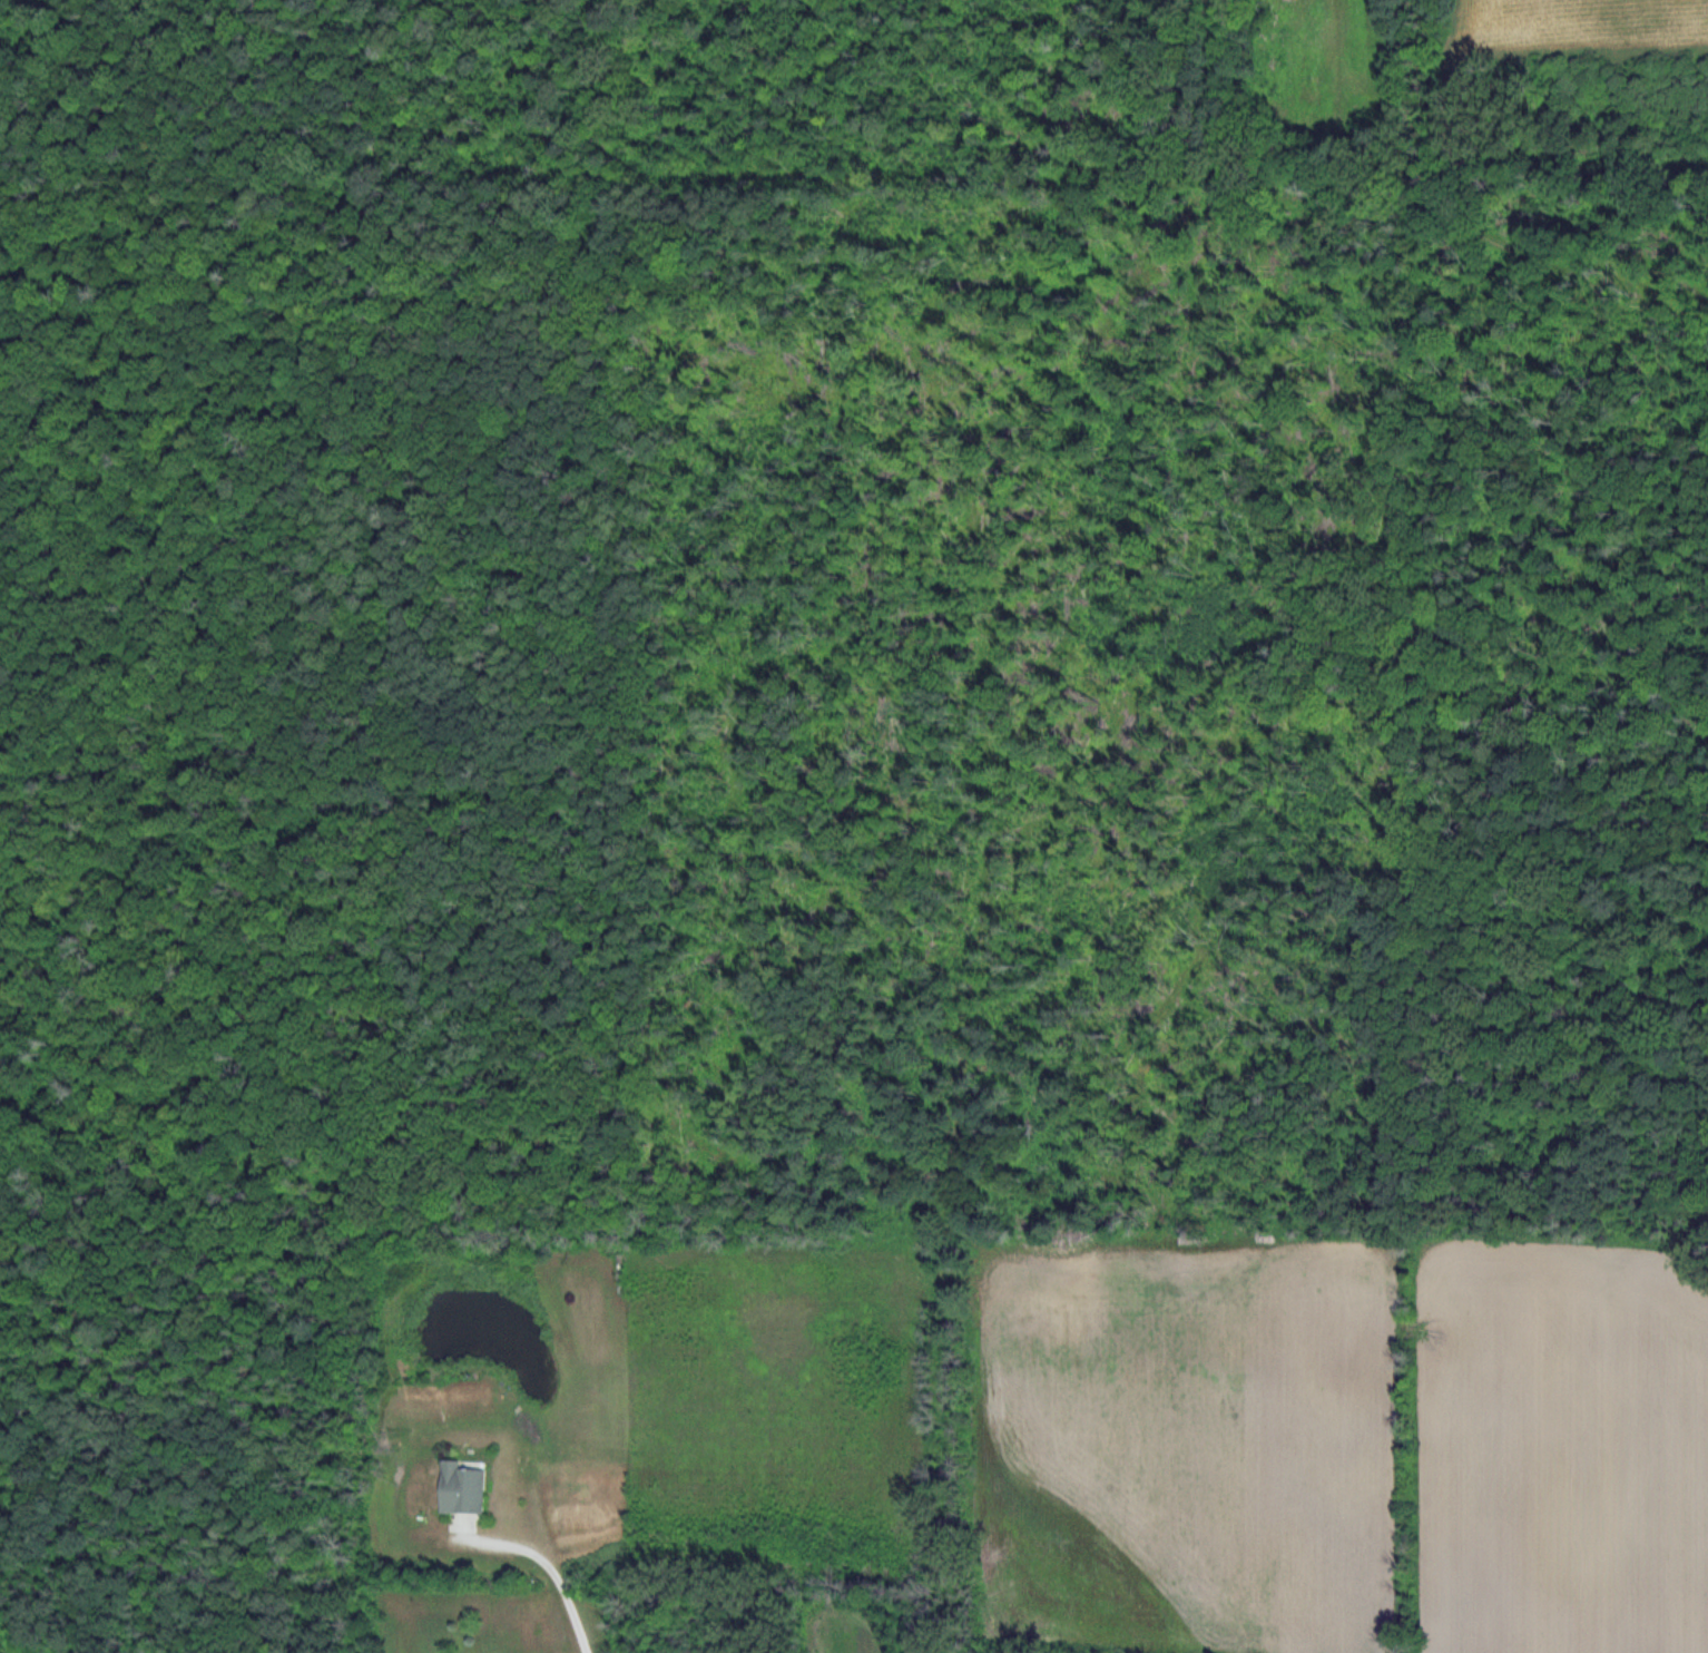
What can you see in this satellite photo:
building: (467, 1489)
road: (553, 1564)

